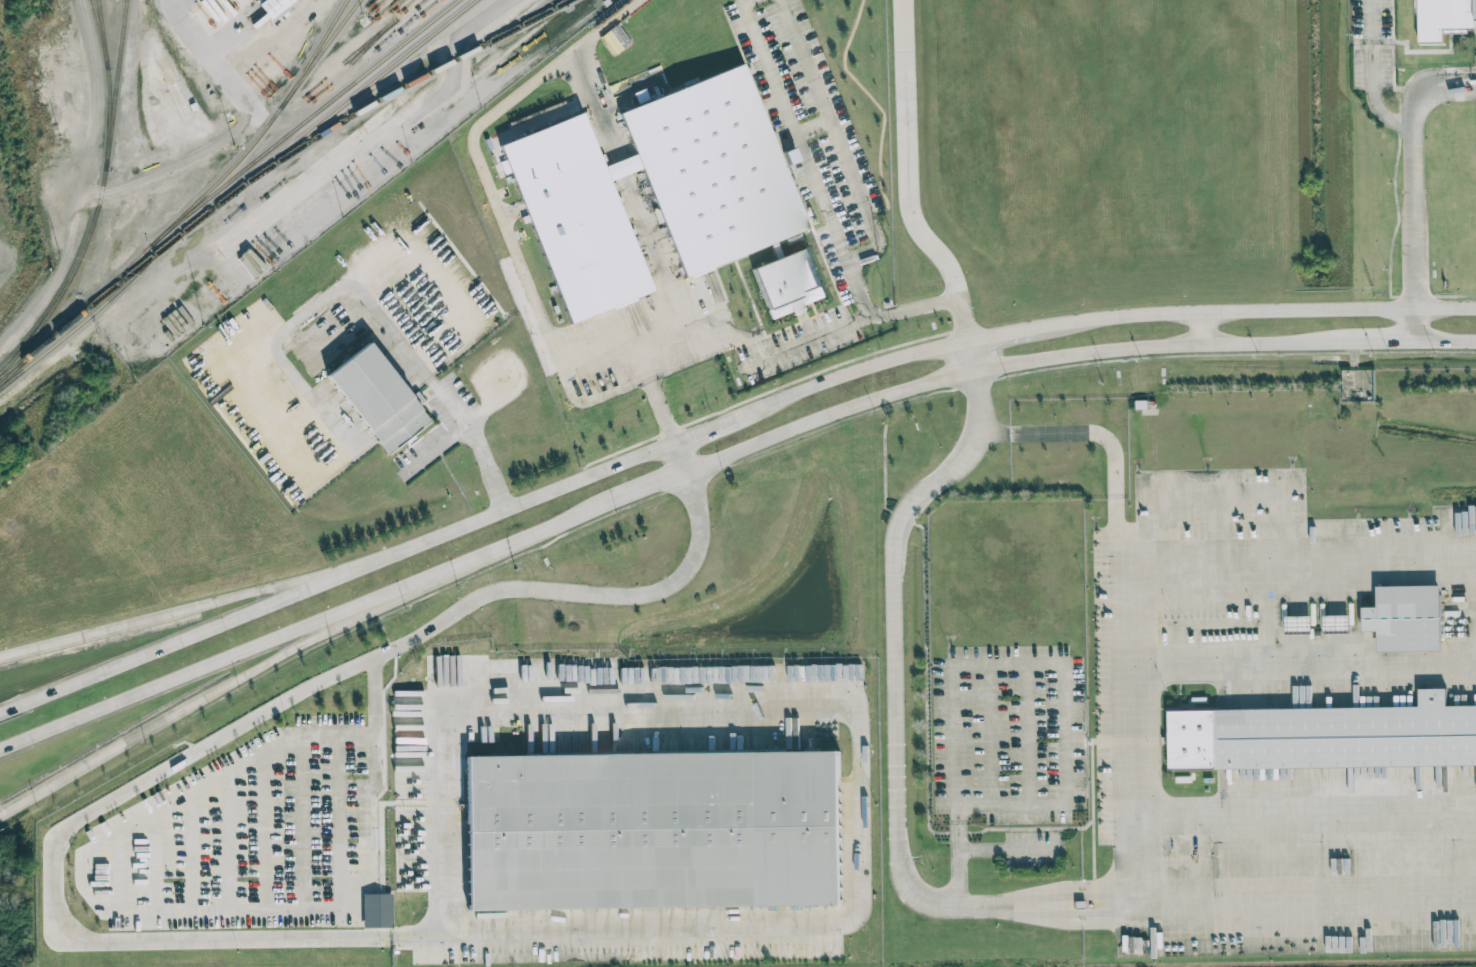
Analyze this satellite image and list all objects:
road: (745, 2)
building: (275, 6)
building: (1442, 18)
railway: (103, 34)
road: (214, 60)
railway: (118, 69)
road: (1372, 74)
road: (94, 96)
road: (596, 104)
road: (259, 117)
road: (812, 128)
road: (795, 135)
railway: (283, 151)
road: (623, 166)
road: (1414, 173)
road: (850, 175)
railway: (225, 182)
building: (655, 190)
railway: (100, 198)
road: (268, 209)
road: (501, 227)
road: (658, 251)
road: (58, 282)
building: (789, 283)
road: (946, 304)
road: (1256, 311)
road: (308, 313)
road: (1417, 324)
road: (1202, 329)
road: (679, 333)
road: (1003, 335)
road: (811, 339)
road: (1447, 340)
road: (1383, 341)
road: (971, 357)
road: (1010, 363)
building: (379, 398)
road: (1073, 433)
road: (477, 438)
road: (445, 443)
road: (683, 455)
road: (641, 490)
road: (480, 517)
road: (532, 535)
road: (1296, 565)
road: (421, 581)
building: (1406, 618)
road: (160, 619)
building: (1338, 622)
road: (447, 647)
road: (1297, 670)
road: (186, 675)
road: (447, 684)
road: (926, 685)
road: (374, 686)
road: (895, 692)
road: (1119, 705)
road: (186, 708)
road: (374, 724)
road: (236, 731)
road: (990, 734)
road: (1027, 734)
road: (1065, 734)
building: (1325, 736)
road: (1116, 741)
road: (955, 784)
road: (1298, 810)
road: (1092, 818)
road: (338, 821)
road: (302, 822)
building: (653, 831)
parking lot: (343, 834)
road: (1010, 850)
road: (1298, 893)
road: (1088, 894)
road: (269, 901)
building: (377, 910)
road: (855, 913)
road: (1088, 915)
road: (408, 932)

